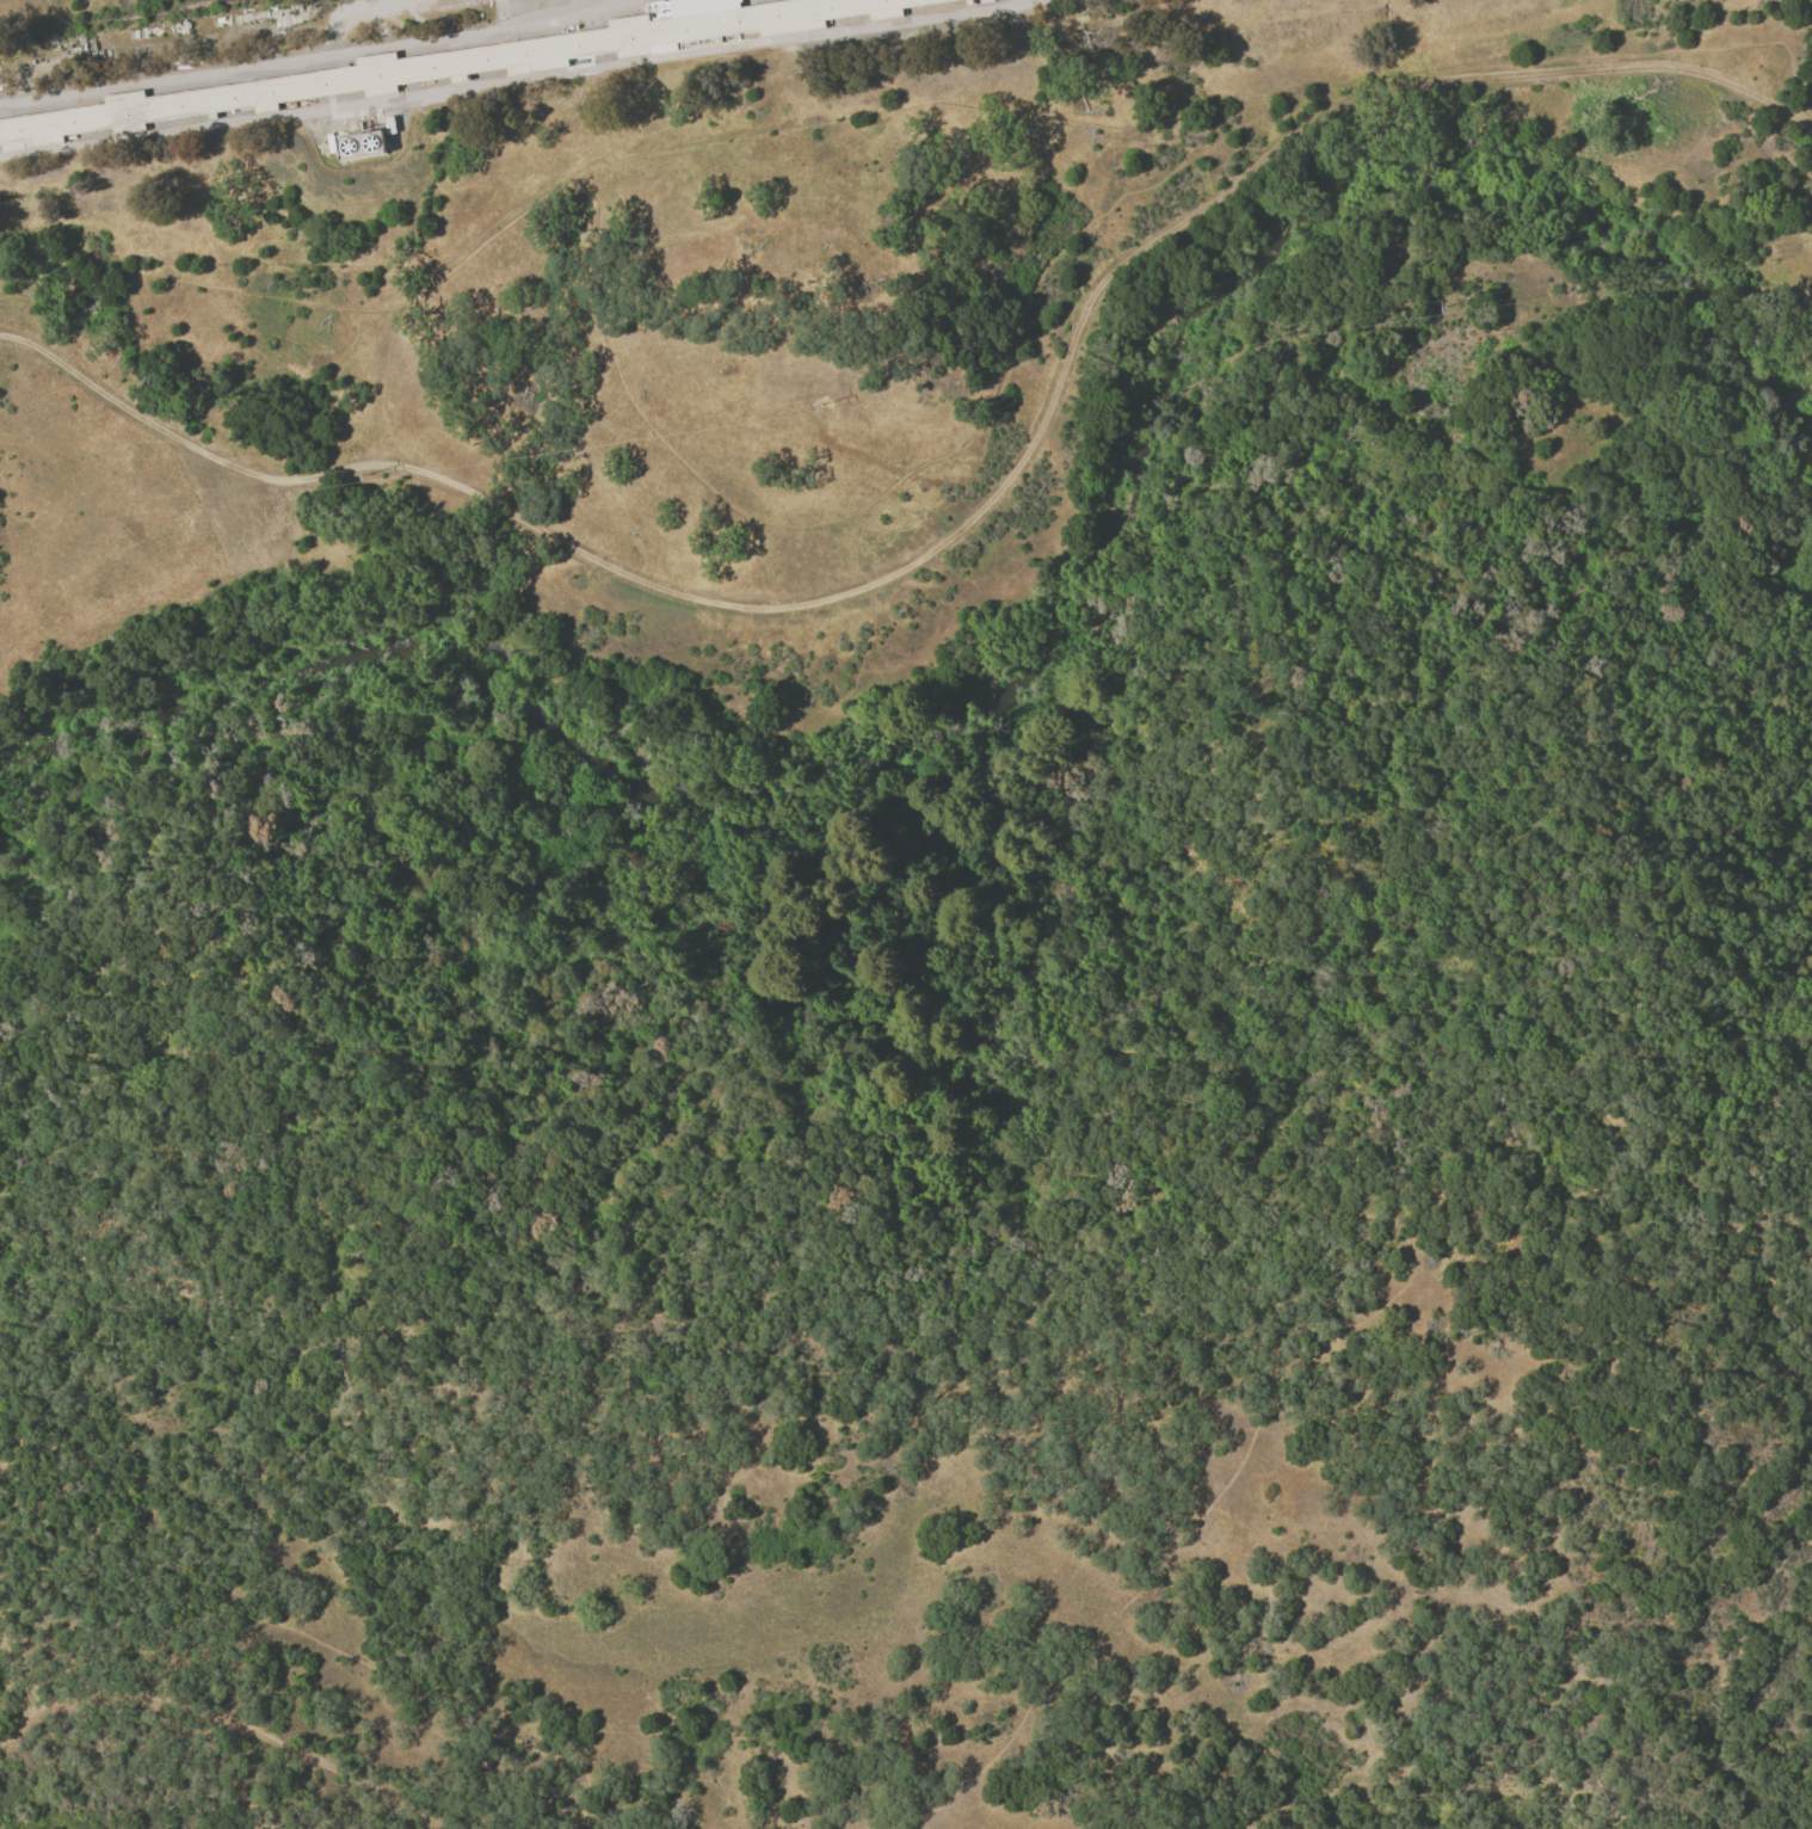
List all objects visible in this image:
road: (596, 4)
building: (1001, 21)
building: (918, 39)
building: (883, 44)
building: (851, 49)
road: (294, 58)
building: (479, 62)
road: (530, 78)
building: (392, 127)
building: (331, 144)
building: (362, 147)
road: (967, 521)
road: (980, 787)
road: (1648, 1029)
road: (319, 1643)
road: (234, 1720)

